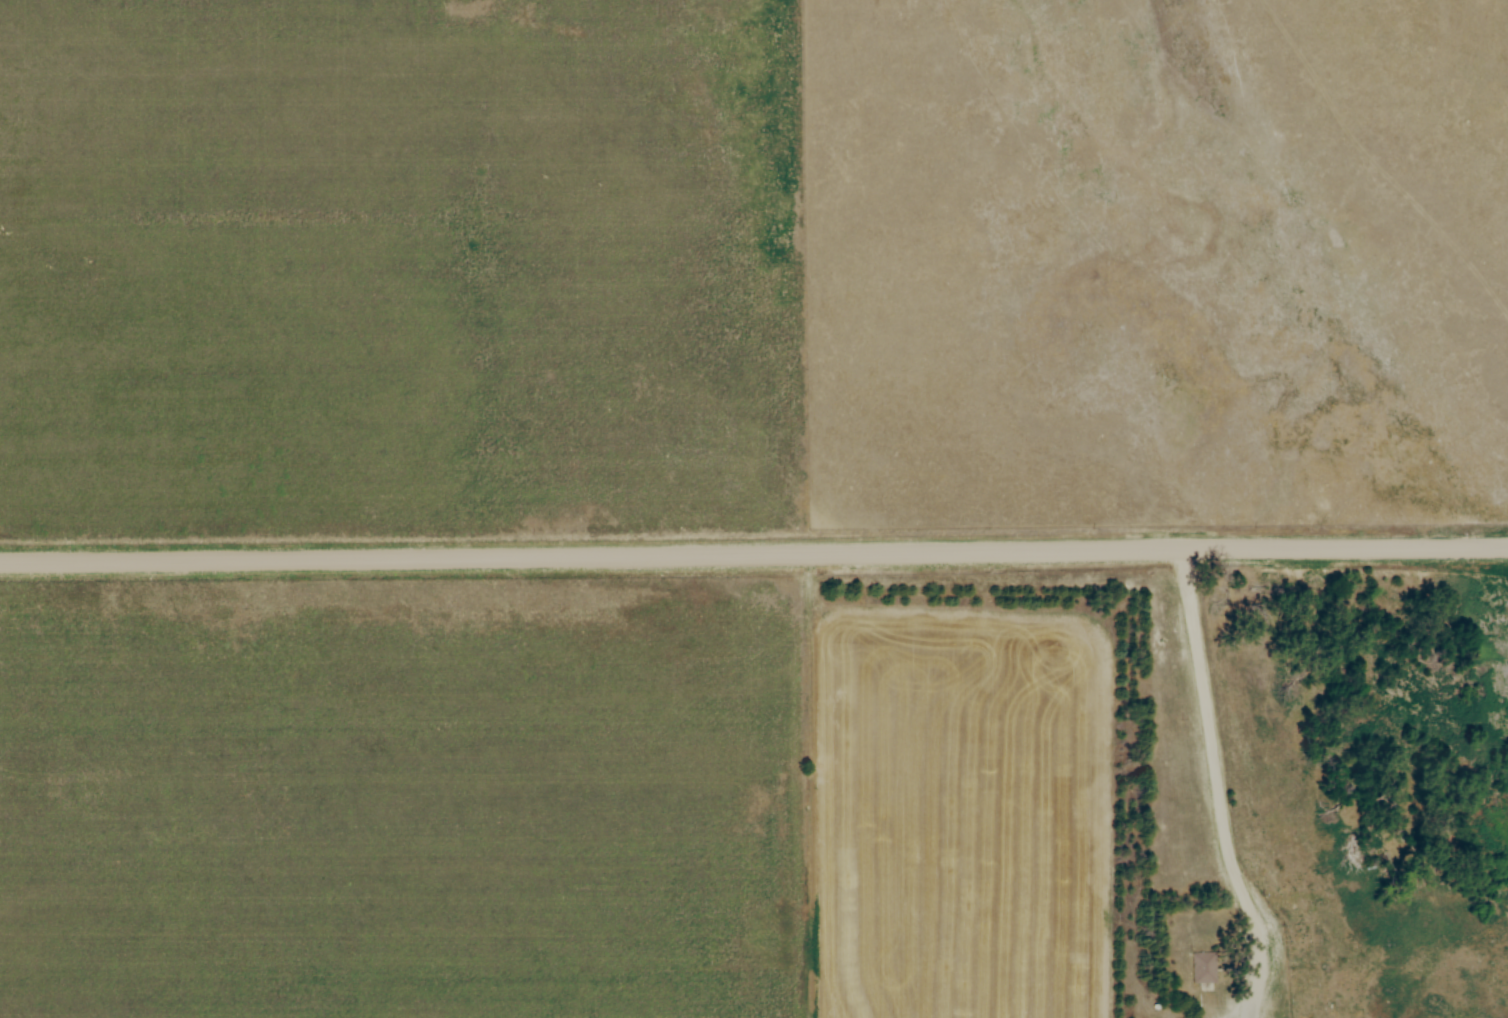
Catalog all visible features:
road: (753, 554)
road: (1220, 791)

